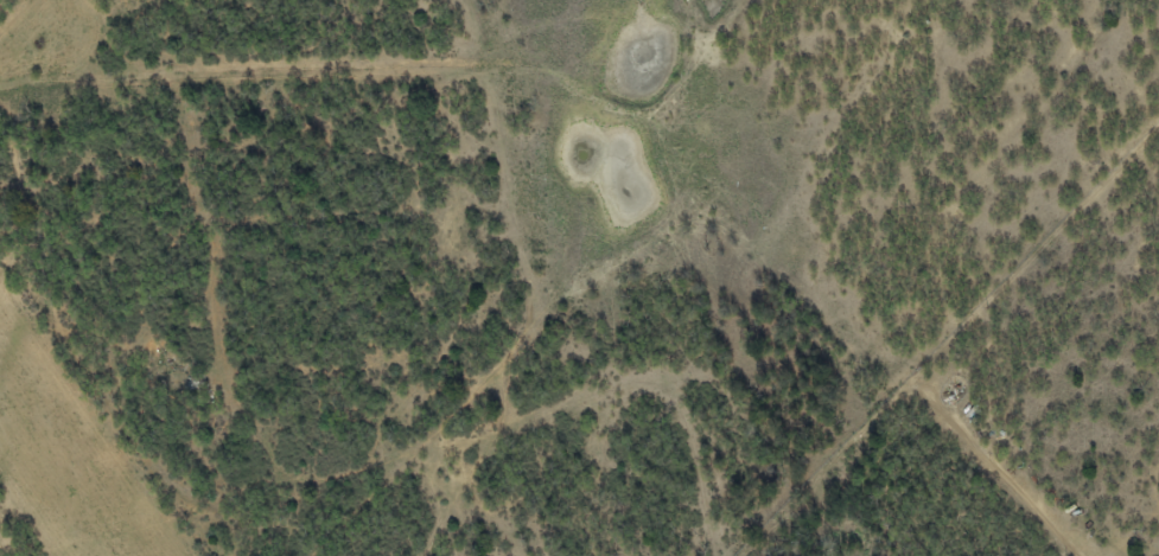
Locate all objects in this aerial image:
road: (18, 18)
road: (407, 70)
road: (613, 264)
road: (524, 317)
road: (854, 343)
road: (210, 351)
road: (617, 394)
road: (98, 410)
crop: (63, 468)
road: (441, 500)

